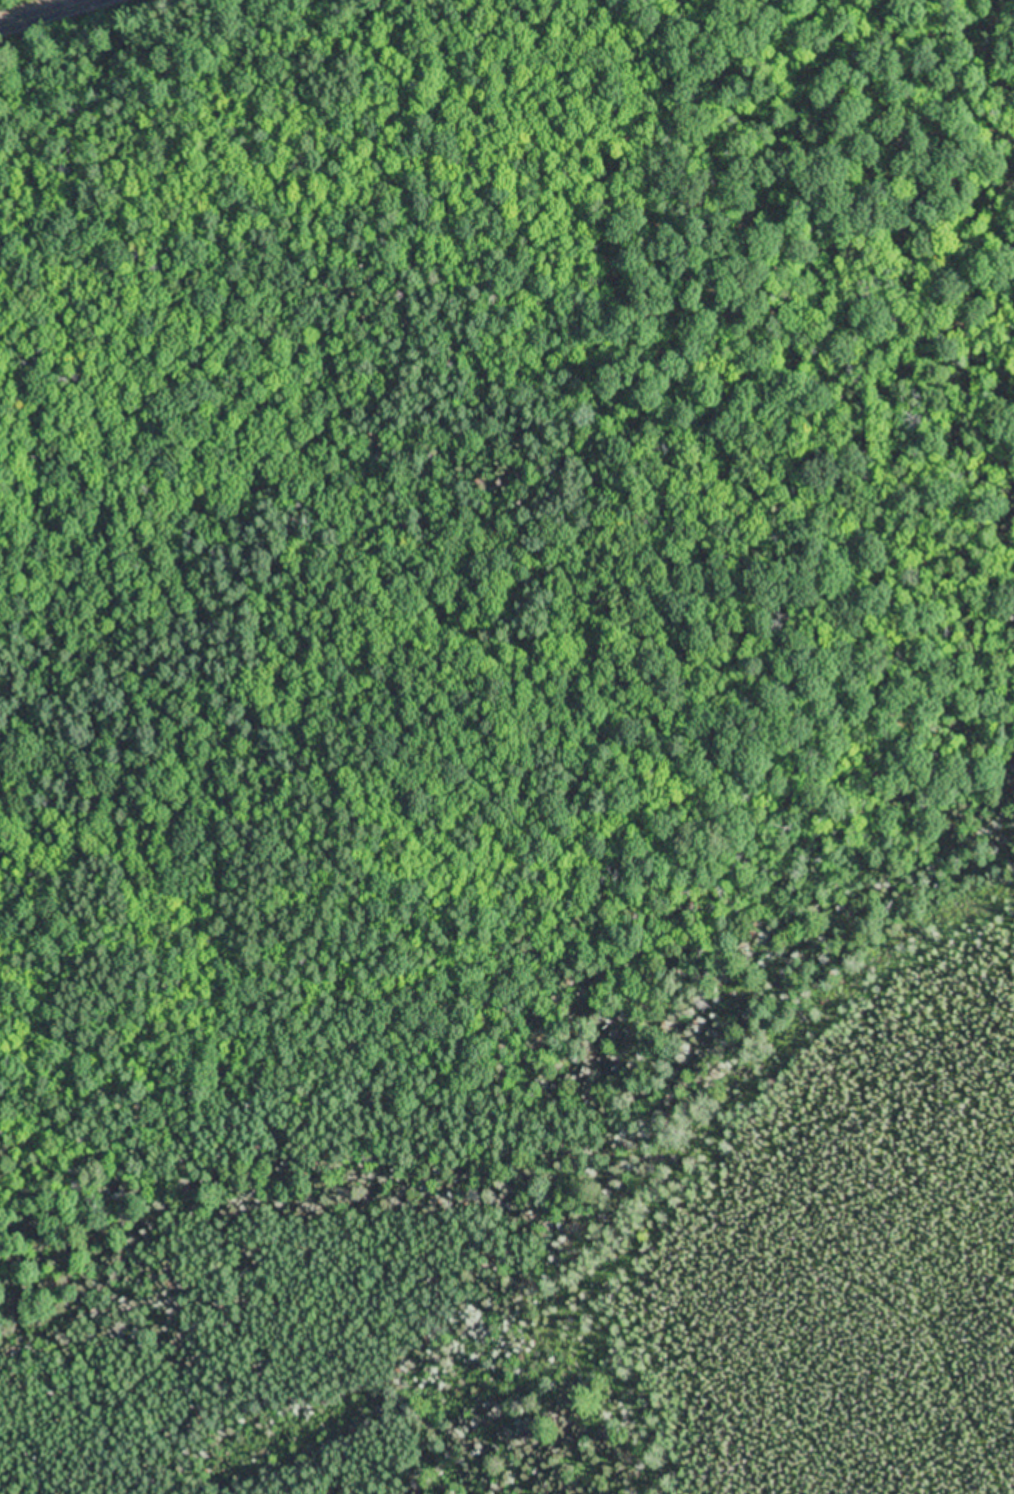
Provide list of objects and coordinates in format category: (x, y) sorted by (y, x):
road: (36, 11)

